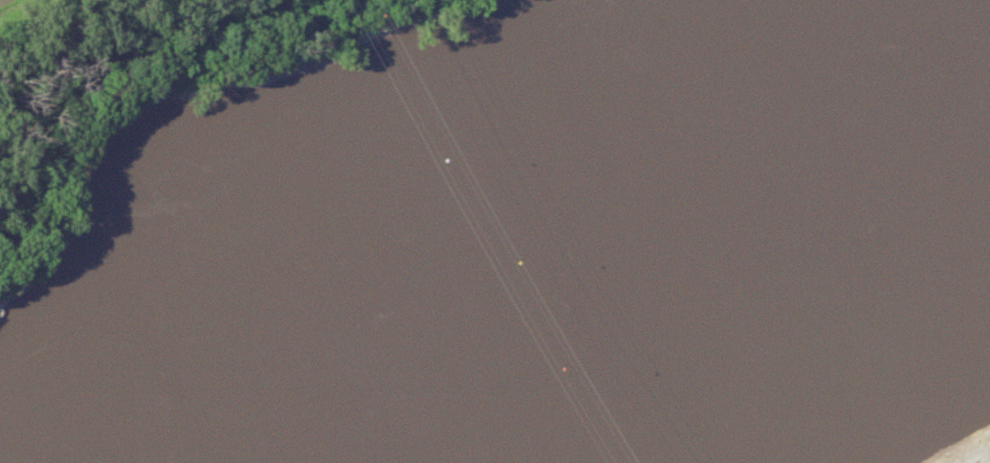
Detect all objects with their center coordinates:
river: (637, 245)

